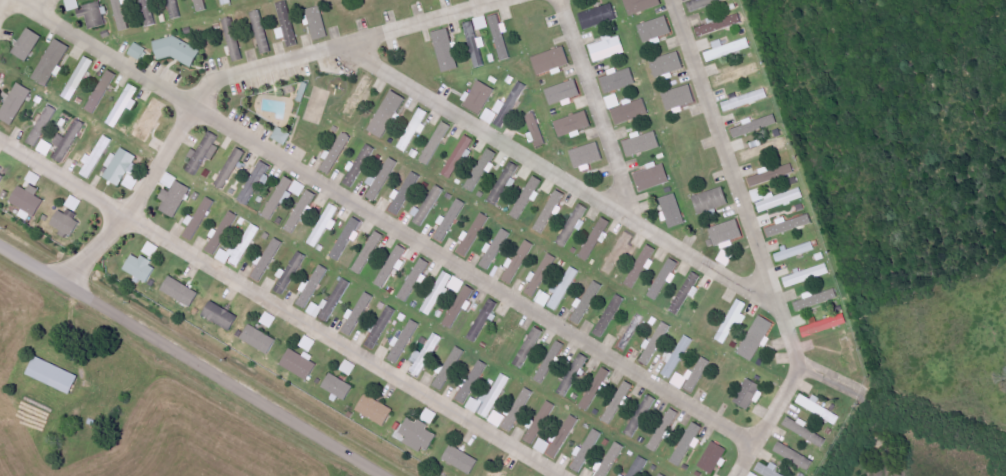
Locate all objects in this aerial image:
road: (0, 0)
road: (27, 1)
building: (226, 2)
building: (703, 3)
building: (73, 5)
building: (202, 5)
building: (642, 5)
building: (175, 9)
building: (148, 12)
building: (92, 15)
building: (121, 15)
building: (598, 16)
building: (317, 23)
building: (482, 23)
building: (286, 24)
building: (720, 25)
building: (655, 29)
building: (261, 32)
building: (500, 37)
building: (233, 39)
building: (27, 44)
building: (475, 44)
building: (608, 48)
building: (727, 48)
building: (446, 50)
building: (137, 51)
building: (51, 62)
building: (667, 64)
building: (548, 65)
road: (237, 74)
building: (78, 78)
building: (619, 79)
building: (101, 92)
building: (563, 93)
building: (478, 97)
building: (679, 97)
building: (745, 100)
building: (613, 101)
building: (15, 104)
building: (124, 105)
building: (510, 105)
road: (598, 111)
building: (631, 112)
building: (387, 114)
building: (490, 116)
building: (573, 124)
building: (42, 125)
building: (754, 125)
building: (414, 129)
building: (536, 131)
building: (282, 136)
building: (67, 142)
building: (642, 143)
building: (433, 146)
building: (45, 147)
building: (763, 150)
building: (203, 154)
building: (335, 154)
building: (587, 155)
building: (96, 156)
building: (456, 159)
building: (119, 166)
building: (230, 168)
building: (481, 169)
building: (772, 174)
building: (1, 177)
road: (560, 177)
building: (34, 178)
building: (652, 178)
building: (170, 180)
building: (255, 180)
building: (131, 182)
building: (380, 182)
building: (504, 183)
building: (298, 188)
building: (758, 195)
building: (278, 198)
building: (28, 199)
building: (174, 199)
building: (780, 199)
building: (525, 200)
building: (74, 203)
building: (707, 203)
building: (428, 205)
building: (672, 210)
building: (301, 211)
building: (550, 211)
road: (379, 218)
building: (451, 220)
building: (196, 222)
building: (65, 224)
building: (325, 225)
building: (788, 225)
building: (573, 226)
building: (222, 232)
building: (726, 232)
building: (474, 235)
building: (595, 239)
road: (757, 243)
building: (241, 247)
building: (151, 249)
building: (492, 250)
building: (369, 252)
building: (795, 252)
building: (618, 253)
building: (725, 258)
building: (267, 259)
building: (519, 261)
road: (30, 265)
building: (393, 265)
building: (640, 266)
building: (140, 267)
building: (807, 275)
building: (663, 279)
building: (414, 280)
building: (457, 284)
building: (313, 287)
building: (563, 288)
building: (180, 291)
building: (687, 292)
building: (437, 293)
building: (543, 298)
building: (815, 300)
building: (330, 302)
building: (586, 302)
road: (279, 308)
building: (457, 309)
building: (357, 314)
building: (221, 315)
building: (609, 315)
building: (269, 319)
building: (482, 321)
building: (732, 321)
building: (825, 325)
building: (381, 328)
building: (756, 338)
building: (259, 339)
building: (404, 341)
building: (308, 343)
building: (655, 344)
building: (425, 355)
building: (678, 356)
building: (299, 364)
building: (348, 368)
building: (449, 368)
building: (53, 375)
building: (692, 376)
road: (222, 379)
building: (472, 382)
road: (832, 383)
building: (338, 387)
building: (595, 389)
building: (748, 393)
building: (490, 397)
building: (618, 403)
building: (819, 409)
building: (375, 410)
building: (640, 416)
building: (497, 419)
building: (540, 423)
building: (664, 430)
building: (805, 431)
building: (417, 435)
building: (563, 436)
building: (687, 444)
building: (543, 446)
building: (585, 452)
building: (794, 456)
building: (713, 458)
building: (461, 459)
building: (611, 460)
building: (639, 467)
building: (767, 470)
building: (622, 475)
building: (661, 475)
building: (752, 475)

